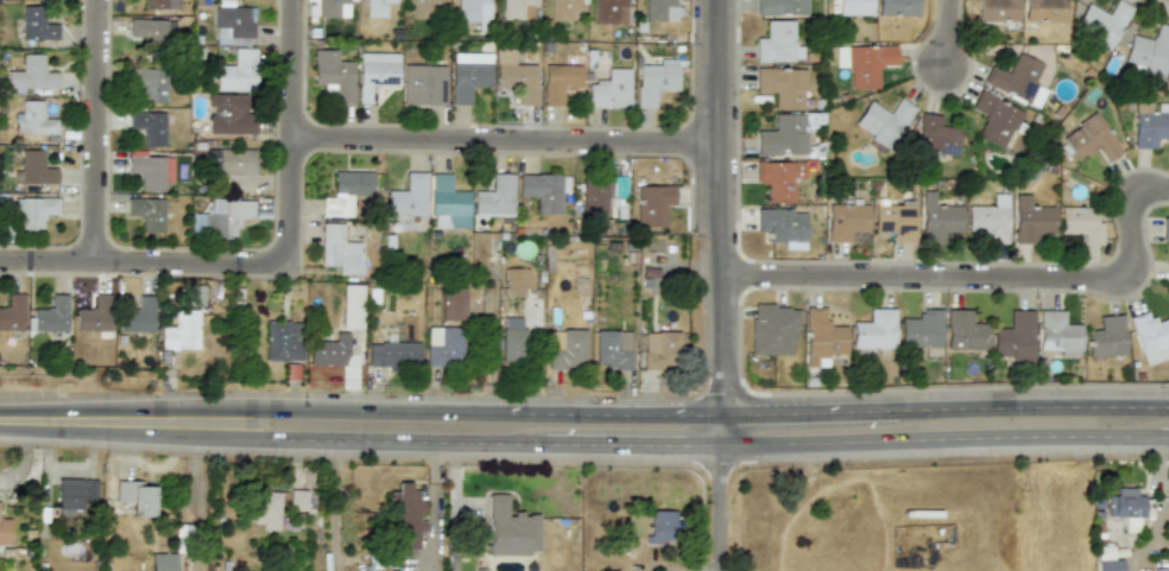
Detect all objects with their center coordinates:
building: (160, 4)
building: (778, 6)
building: (854, 6)
building: (375, 7)
building: (896, 7)
building: (421, 8)
building: (517, 8)
building: (563, 8)
building: (659, 9)
building: (997, 9)
building: (472, 11)
building: (609, 11)
building: (1043, 11)
building: (1100, 23)
building: (36, 24)
building: (232, 25)
building: (152, 28)
road: (944, 36)
building: (777, 42)
building: (1148, 50)
building: (862, 62)
building: (236, 71)
building: (375, 71)
building: (31, 74)
building: (468, 74)
building: (333, 75)
building: (516, 76)
building: (1016, 78)
building: (655, 80)
building: (558, 82)
building: (149, 83)
building: (423, 84)
building: (782, 85)
building: (609, 89)
building: (229, 113)
building: (993, 119)
building: (34, 120)
building: (882, 121)
building: (149, 126)
building: (1148, 128)
road: (291, 129)
road: (94, 132)
building: (782, 134)
building: (934, 134)
building: (1088, 138)
road: (505, 144)
building: (232, 167)
building: (32, 169)
building: (151, 171)
building: (778, 178)
building: (543, 190)
building: (346, 191)
building: (601, 193)
building: (407, 196)
building: (494, 197)
building: (447, 203)
building: (652, 204)
road: (720, 207)
building: (32, 210)
building: (147, 212)
building: (937, 217)
building: (220, 218)
building: (988, 218)
building: (893, 220)
building: (1030, 220)
building: (1080, 223)
building: (782, 226)
building: (1164, 228)
building: (339, 249)
road: (46, 262)
road: (188, 264)
building: (1167, 273)
road: (987, 275)
building: (516, 281)
building: (451, 302)
building: (350, 305)
building: (12, 312)
building: (137, 312)
building: (50, 313)
building: (94, 315)
building: (772, 329)
building: (874, 329)
building: (922, 330)
building: (963, 330)
building: (179, 331)
building: (1057, 332)
building: (1013, 336)
building: (1106, 336)
building: (1150, 336)
building: (821, 337)
building: (512, 338)
building: (283, 341)
building: (443, 345)
building: (565, 348)
building: (659, 349)
building: (328, 350)
building: (608, 350)
building: (392, 354)
road: (1034, 406)
road: (93, 408)
road: (347, 410)
road: (810, 412)
road: (614, 413)
road: (719, 429)
road: (90, 432)
road: (225, 437)
road: (936, 437)
road: (1163, 437)
road: (492, 442)
building: (74, 494)
building: (135, 496)
building: (297, 500)
road: (335, 505)
building: (1125, 506)
road: (716, 507)
building: (264, 508)
building: (406, 514)
building: (661, 526)
building: (510, 527)
building: (5, 531)
building: (1106, 559)
building: (162, 562)

